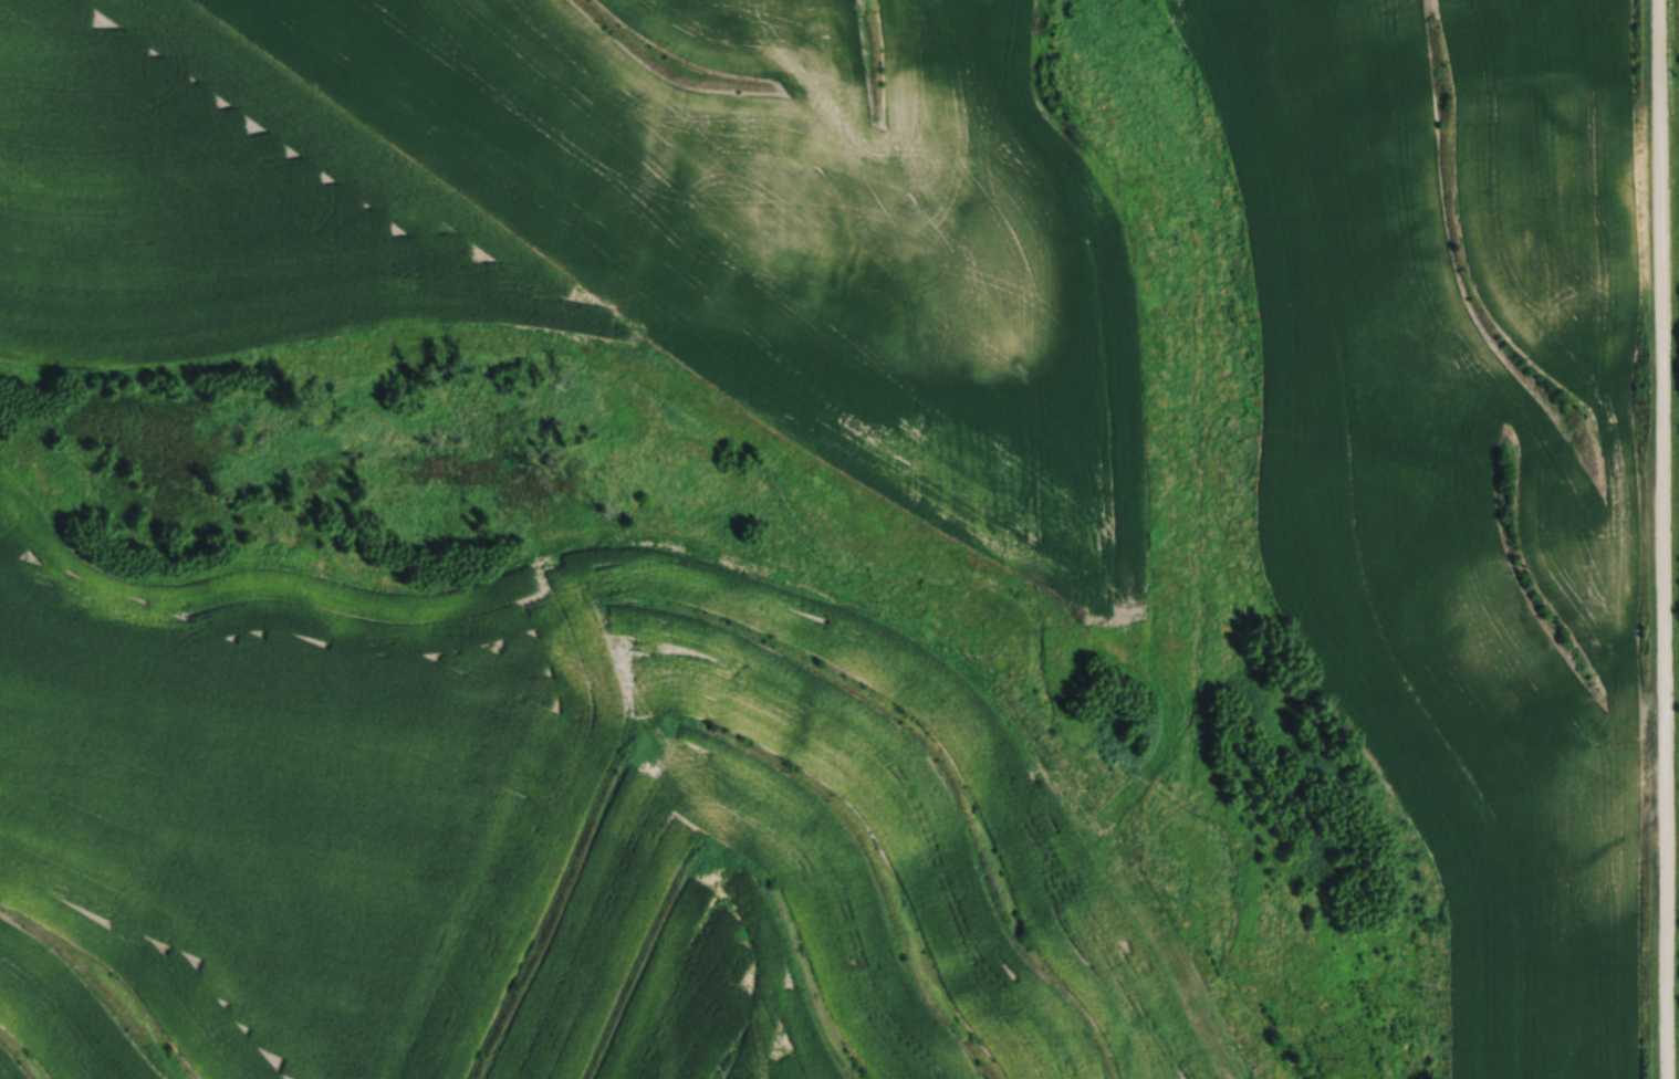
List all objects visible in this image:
road: (1660, 539)

